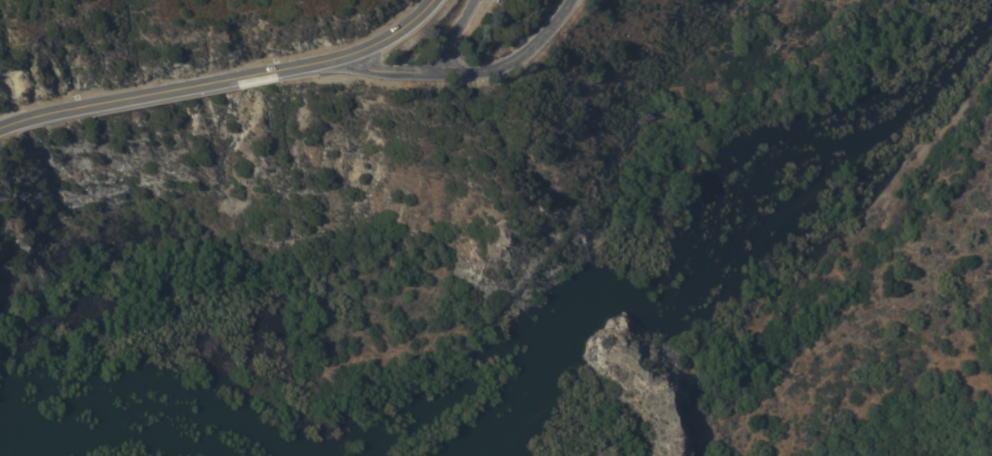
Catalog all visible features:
road: (454, 42)
road: (468, 71)
road: (231, 77)
river: (708, 275)
river: (71, 454)

